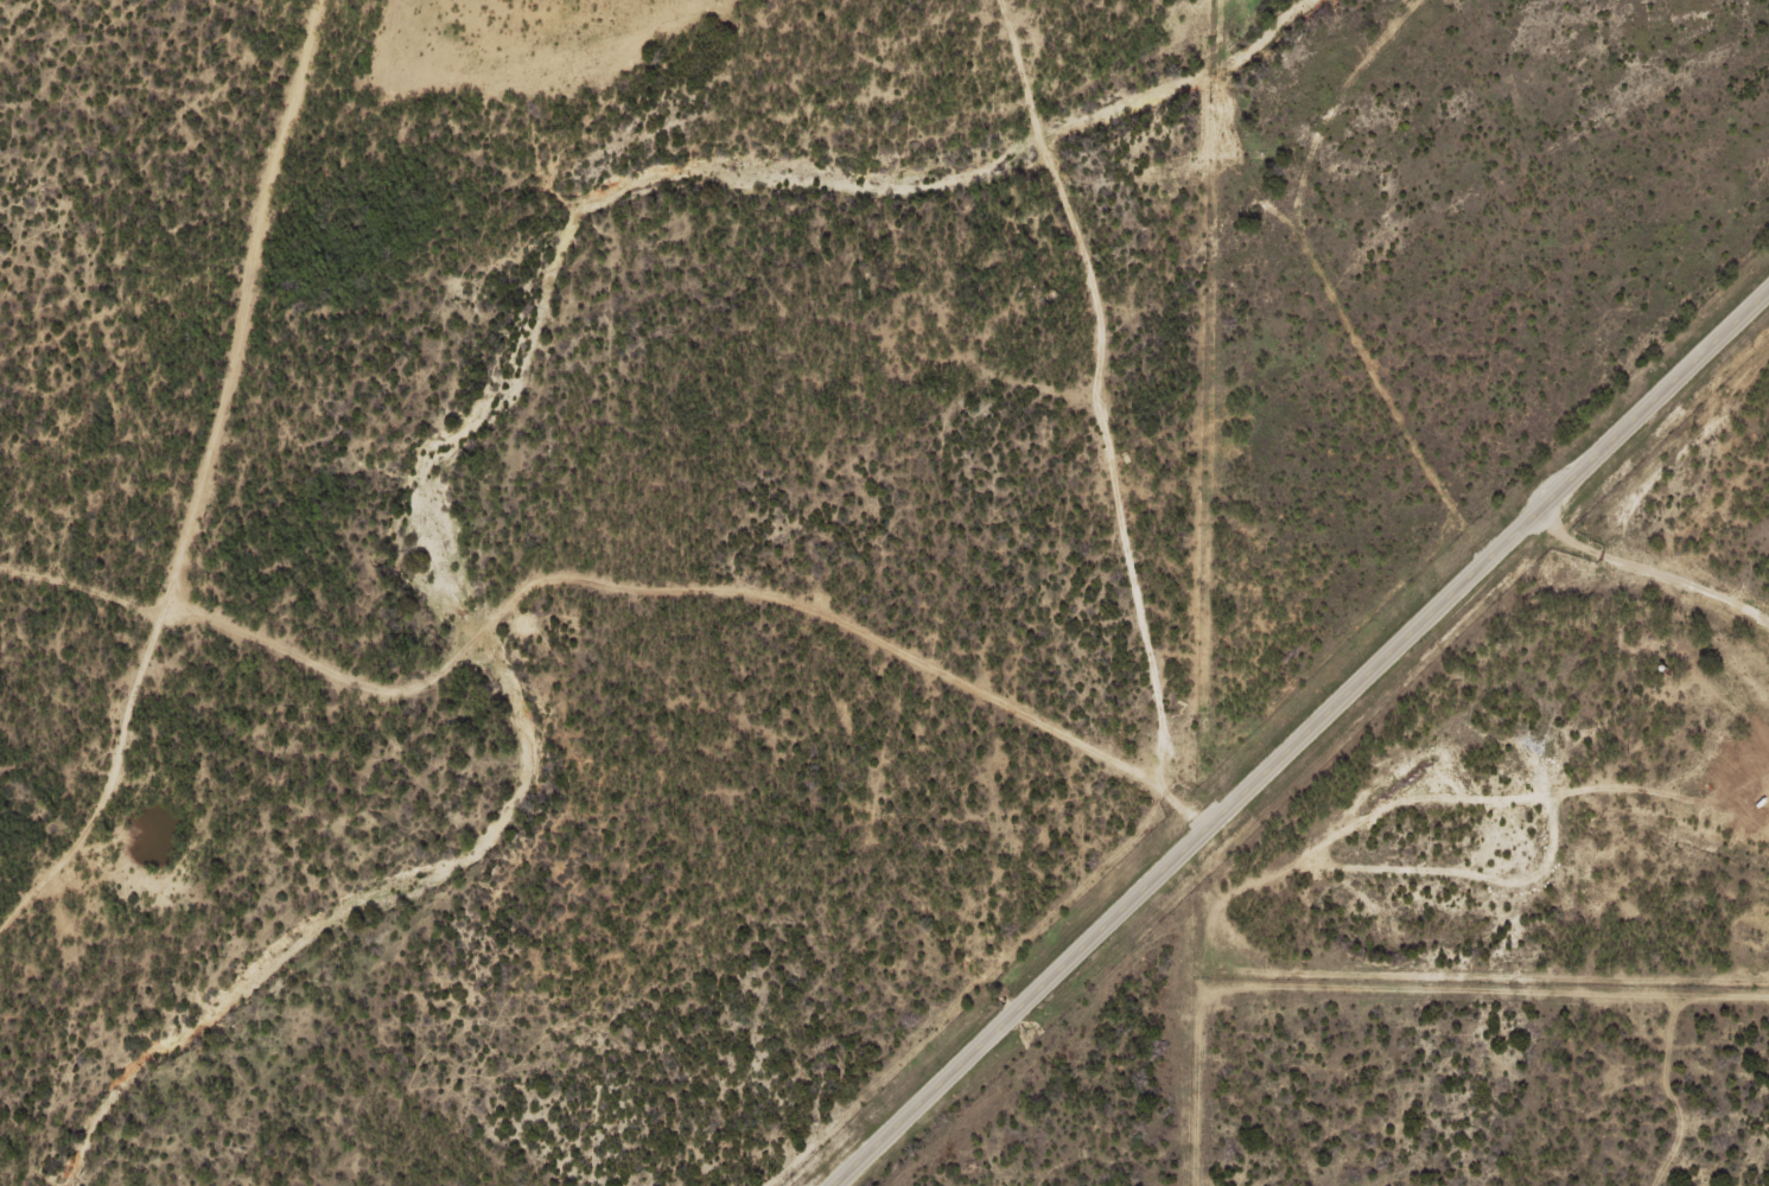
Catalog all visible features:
road: (85, 144)
road: (1118, 397)
road: (1300, 738)
road: (1444, 962)

